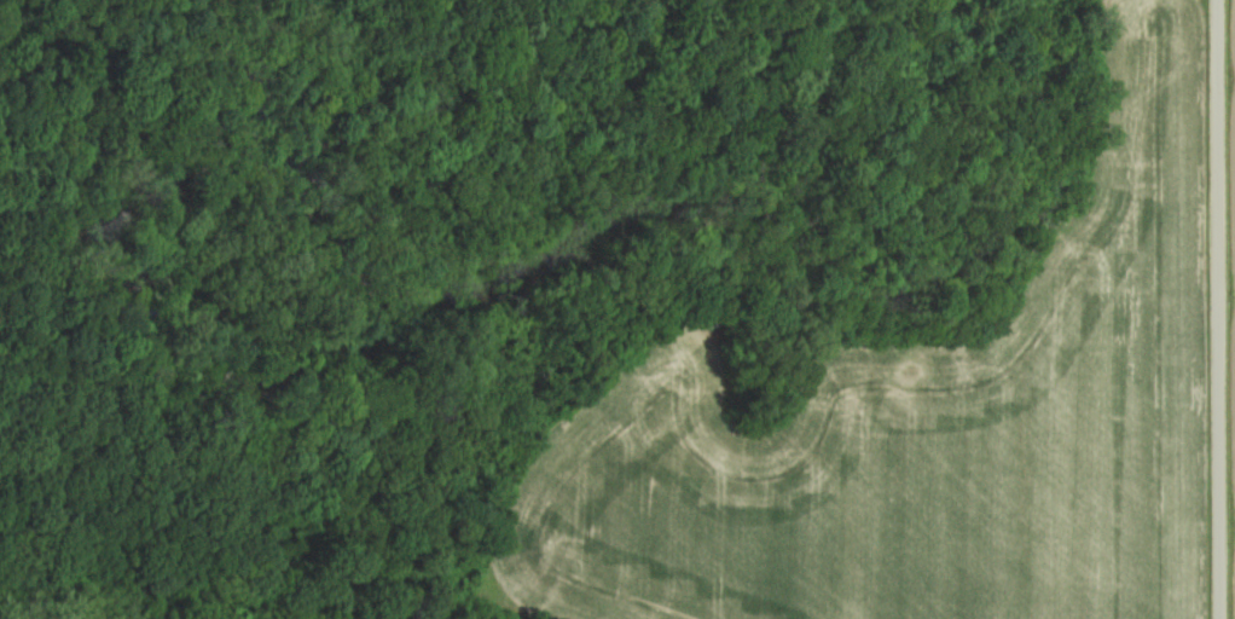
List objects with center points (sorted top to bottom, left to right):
road: (1218, 309)

